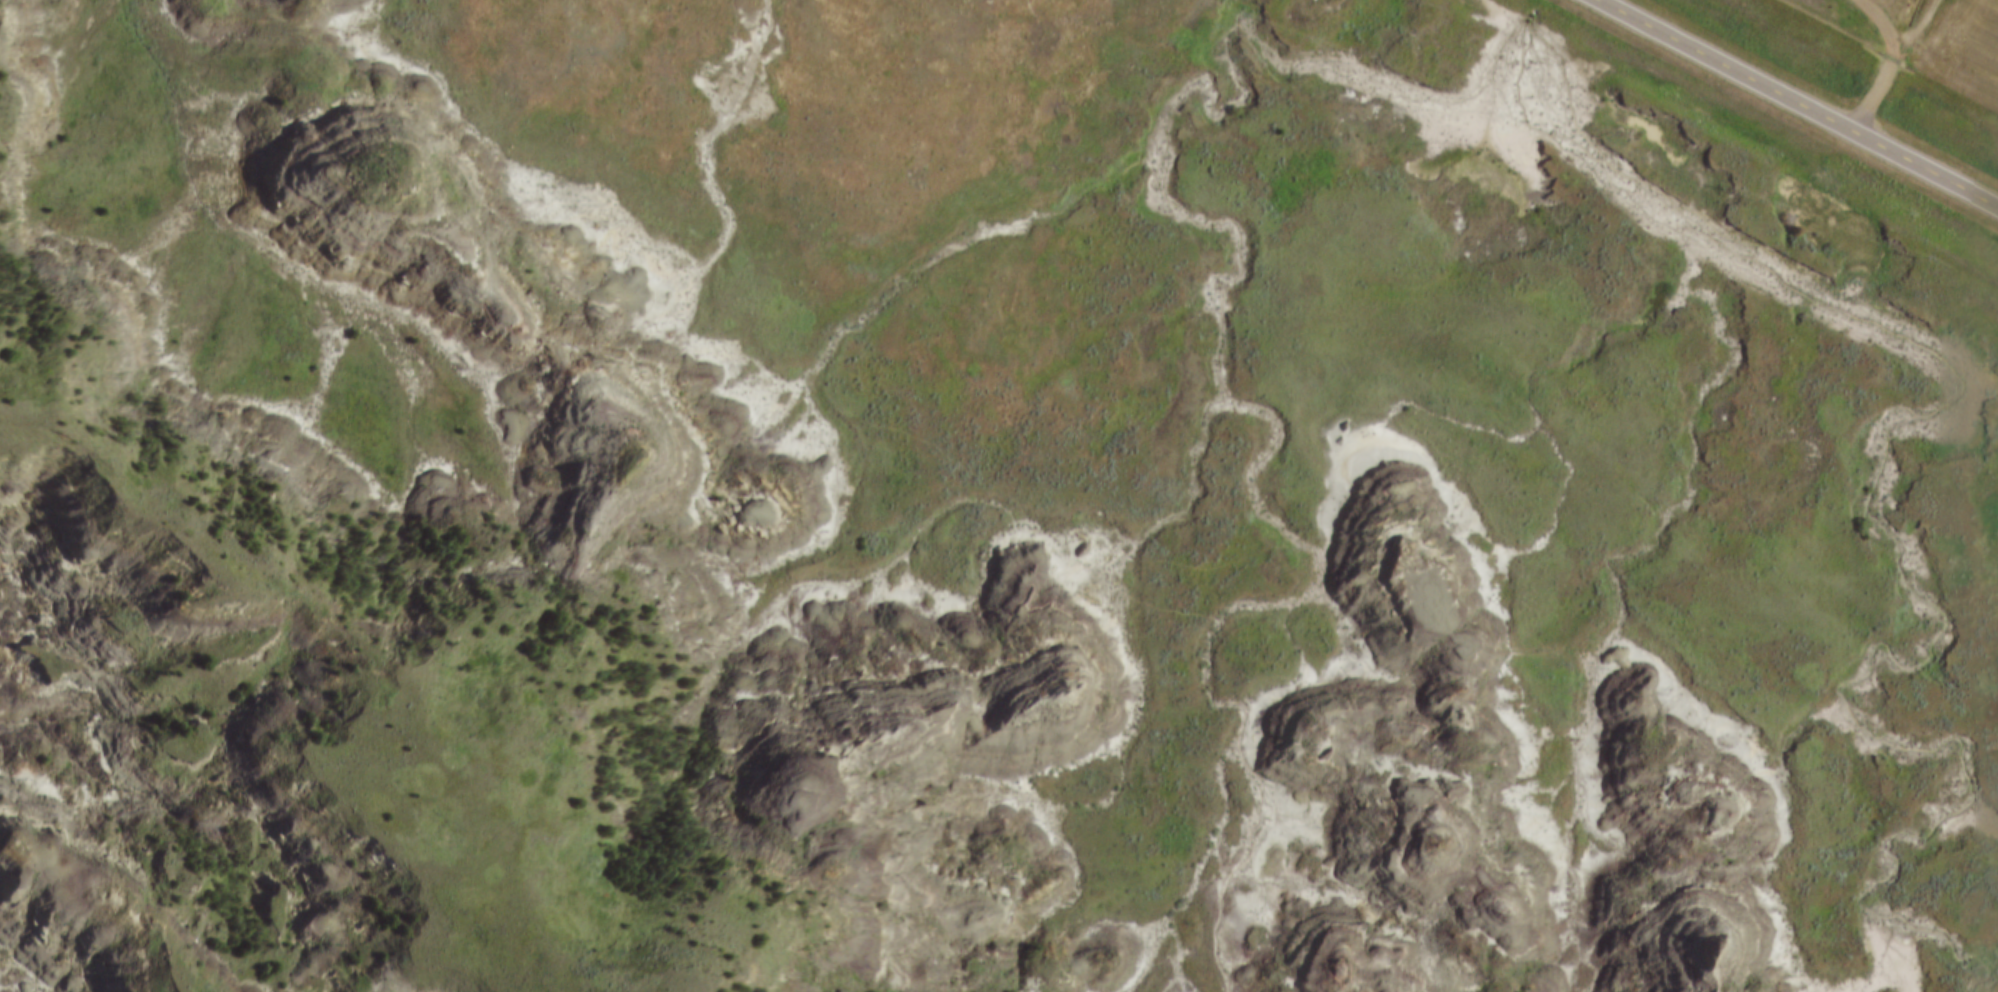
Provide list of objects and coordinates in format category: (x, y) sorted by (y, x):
road: (1891, 62)
road: (1802, 102)

